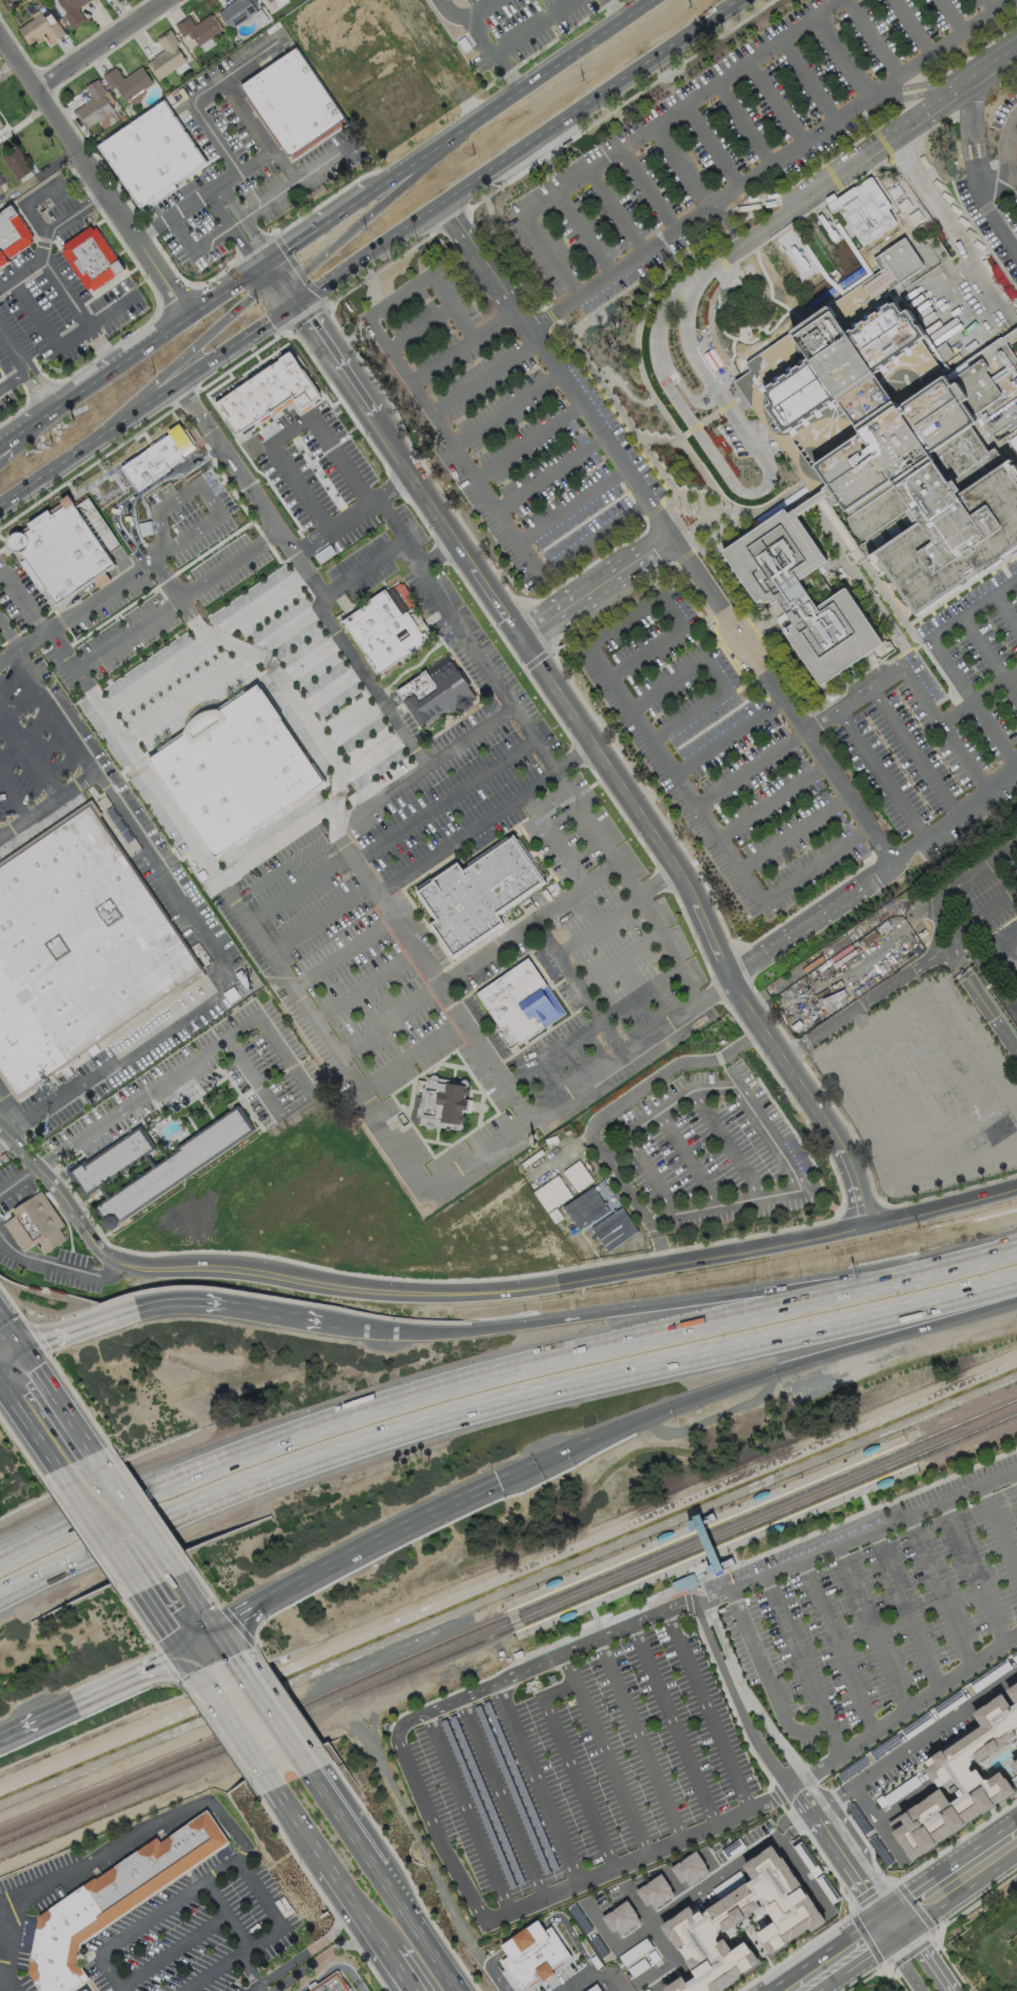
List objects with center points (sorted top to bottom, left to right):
building: (2, 0)
building: (268, 0)
building: (447, 1)
road: (990, 4)
road: (613, 9)
building: (72, 11)
building: (235, 11)
road: (951, 16)
road: (528, 24)
road: (912, 27)
building: (197, 28)
building: (39, 29)
road: (873, 38)
road: (485, 40)
road: (99, 43)
road: (932, 54)
building: (165, 55)
road: (250, 56)
road: (844, 56)
road: (8, 64)
building: (126, 81)
road: (808, 81)
road: (228, 83)
road: (911, 85)
road: (940, 92)
road: (913, 94)
road: (884, 95)
road: (506, 96)
road: (776, 102)
building: (92, 105)
building: (294, 106)
building: (0, 124)
road: (744, 124)
road: (640, 134)
parking lot: (719, 138)
road: (712, 145)
road: (1004, 151)
road: (783, 157)
building: (151, 158)
building: (15, 162)
road: (323, 162)
road: (855, 164)
road: (680, 167)
road: (975, 172)
road: (92, 173)
road: (229, 179)
road: (648, 189)
road: (460, 195)
road: (24, 204)
road: (176, 208)
road: (615, 211)
building: (865, 211)
road: (375, 212)
road: (939, 217)
road: (65, 219)
road: (245, 220)
road: (316, 226)
road: (724, 226)
road: (232, 228)
building: (11, 233)
road: (583, 233)
road: (644, 250)
road: (191, 251)
building: (92, 260)
traffic signals: (266, 260)
road: (64, 288)
road: (758, 294)
traffic signals: (296, 304)
road: (554, 311)
road: (710, 322)
road: (418, 326)
road: (158, 330)
road: (690, 342)
road: (64, 344)
road: (183, 346)
road: (439, 358)
road: (28, 363)
road: (24, 373)
road: (483, 376)
building: (0, 377)
road: (12, 381)
road: (670, 390)
road: (683, 390)
building: (268, 394)
road: (506, 410)
road: (719, 411)
parking lot: (497, 412)
road: (431, 415)
road: (26, 422)
road: (291, 430)
building: (897, 435)
road: (527, 440)
road: (32, 442)
road: (87, 444)
road: (757, 451)
building: (157, 457)
road: (549, 473)
road: (153, 482)
road: (393, 483)
building: (105, 486)
road: (247, 491)
road: (570, 504)
road: (158, 510)
road: (392, 518)
road: (202, 526)
road: (334, 526)
road: (122, 533)
building: (61, 551)
road: (426, 563)
road: (225, 565)
road: (363, 568)
road: (595, 583)
road: (90, 585)
road: (100, 595)
road: (24, 596)
building: (799, 596)
road: (1004, 613)
road: (723, 615)
road: (284, 629)
building: (386, 629)
road: (9, 634)
road: (124, 634)
road: (33, 640)
road: (202, 640)
road: (477, 654)
road: (308, 656)
road: (989, 656)
road: (942, 659)
road: (276, 673)
road: (715, 675)
road: (327, 687)
building: (438, 694)
road: (976, 694)
road: (186, 696)
road: (849, 700)
road: (774, 703)
parking lot: (941, 723)
road: (351, 725)
road: (942, 729)
road: (588, 730)
road: (645, 734)
road: (467, 736)
road: (795, 736)
road: (720, 740)
road: (76, 746)
parking lot: (716, 747)
road: (29, 751)
road: (911, 751)
road: (371, 756)
road: (544, 756)
road: (417, 758)
road: (817, 769)
building: (237, 770)
road: (740, 771)
road: (879, 774)
road: (158, 792)
road: (13, 793)
road: (444, 802)
road: (840, 803)
road: (762, 804)
road: (485, 816)
road: (953, 816)
road: (127, 819)
road: (596, 831)
road: (859, 832)
road: (553, 838)
road: (785, 838)
road: (275, 839)
road: (1010, 861)
road: (276, 870)
road: (659, 878)
road: (297, 887)
road: (948, 888)
building: (477, 894)
parking lot: (977, 901)
road: (974, 918)
road: (320, 920)
road: (597, 922)
road: (527, 923)
road: (990, 934)
building: (76, 949)
road: (997, 952)
road: (341, 953)
road: (618, 956)
road: (957, 963)
building: (961, 971)
road: (961, 971)
road: (1000, 975)
road: (946, 979)
road: (579, 985)
road: (691, 985)
road: (364, 987)
road: (217, 990)
road: (868, 999)
building: (523, 1003)
road: (629, 1003)
road: (1000, 1011)
building: (1013, 1012)
road: (990, 1013)
road: (386, 1020)
road: (864, 1028)
road: (410, 1056)
theme park: (838, 1074)
road: (658, 1077)
parking lot: (922, 1091)
road: (309, 1092)
road: (59, 1095)
road: (678, 1099)
building: (442, 1105)
road: (519, 1107)
road: (17, 1112)
road: (113, 1116)
road: (379, 1123)
road: (628, 1137)
road: (769, 1137)
road: (4, 1139)
road: (728, 1144)
road: (616, 1149)
building: (546, 1152)
parking lot: (714, 1152)
road: (689, 1159)
building: (114, 1162)
building: (175, 1168)
road: (652, 1176)
road: (626, 1189)
building: (604, 1193)
road: (725, 1204)
building: (585, 1208)
building: (34, 1225)
building: (614, 1229)
road: (658, 1242)
road: (963, 1263)
road: (58, 1265)
road: (481, 1291)
road: (160, 1303)
road: (618, 1311)
road: (753, 1377)
road: (444, 1388)
road: (497, 1407)
road: (35, 1410)
building: (870, 1449)
road: (76, 1465)
road: (1016, 1477)
traffic signals: (498, 1480)
building: (884, 1482)
building: (760, 1495)
road: (871, 1510)
road: (858, 1516)
road: (117, 1524)
railway: (708, 1525)
building: (774, 1528)
road: (1000, 1531)
building: (664, 1536)
road: (857, 1540)
road: (365, 1546)
road: (707, 1549)
railway: (718, 1551)
building: (712, 1559)
road: (977, 1574)
building: (683, 1582)
road: (700, 1582)
building: (553, 1583)
road: (942, 1593)
road: (177, 1608)
road: (572, 1608)
road: (907, 1611)
railway: (506, 1616)
building: (567, 1616)
parking lot: (879, 1617)
road: (515, 1620)
road: (219, 1631)
road: (872, 1631)
railway: (508, 1632)
traffic signals: (201, 1642)
road: (216, 1647)
road: (837, 1650)
road: (537, 1652)
building: (516, 1654)
road: (199, 1659)
road: (539, 1664)
road: (804, 1668)
building: (551, 1678)
road: (768, 1679)
road: (101, 1693)
road: (748, 1695)
road: (737, 1702)
road: (264, 1703)
road: (707, 1710)
road: (903, 1715)
road: (673, 1725)
road: (231, 1726)
road: (935, 1729)
road: (640, 1739)
road: (606, 1753)
building: (1015, 1765)
road: (760, 1766)
road: (571, 1767)
parking lot: (580, 1768)
building: (960, 1780)
road: (539, 1783)
building: (520, 1786)
building: (510, 1788)
road: (837, 1793)
road: (846, 1796)
building: (486, 1799)
road: (502, 1800)
building: (477, 1802)
road: (797, 1802)
road: (903, 1804)
road: (813, 1808)
road: (337, 1811)
road: (470, 1813)
road: (295, 1820)
road: (878, 1822)
road: (224, 1823)
road: (851, 1834)
road: (852, 1849)
road: (423, 1852)
road: (845, 1869)
building: (690, 1870)
road: (800, 1873)
road: (960, 1874)
road: (706, 1884)
building: (655, 1893)
road: (550, 1899)
building: (114, 1903)
road: (638, 1907)
road: (356, 1910)
traffic signals: (903, 1914)
building: (708, 1917)
building: (622, 1920)
road: (893, 1921)
traffic signals: (883, 1928)
road: (422, 1930)
road: (240, 1932)
road: (264, 1935)
road: (521, 1938)
road: (577, 1945)
road: (173, 1946)
road: (612, 1946)
road: (311, 1948)
building: (531, 1953)
road: (928, 1953)
road: (320, 1957)
building: (639, 1958)
road: (838, 1959)
road: (904, 1959)
road: (332, 1968)
road: (493, 1969)
road: (397, 1973)
road: (575, 1979)
building: (328, 1985)
building: (594, 1988)
building: (86, 1989)

